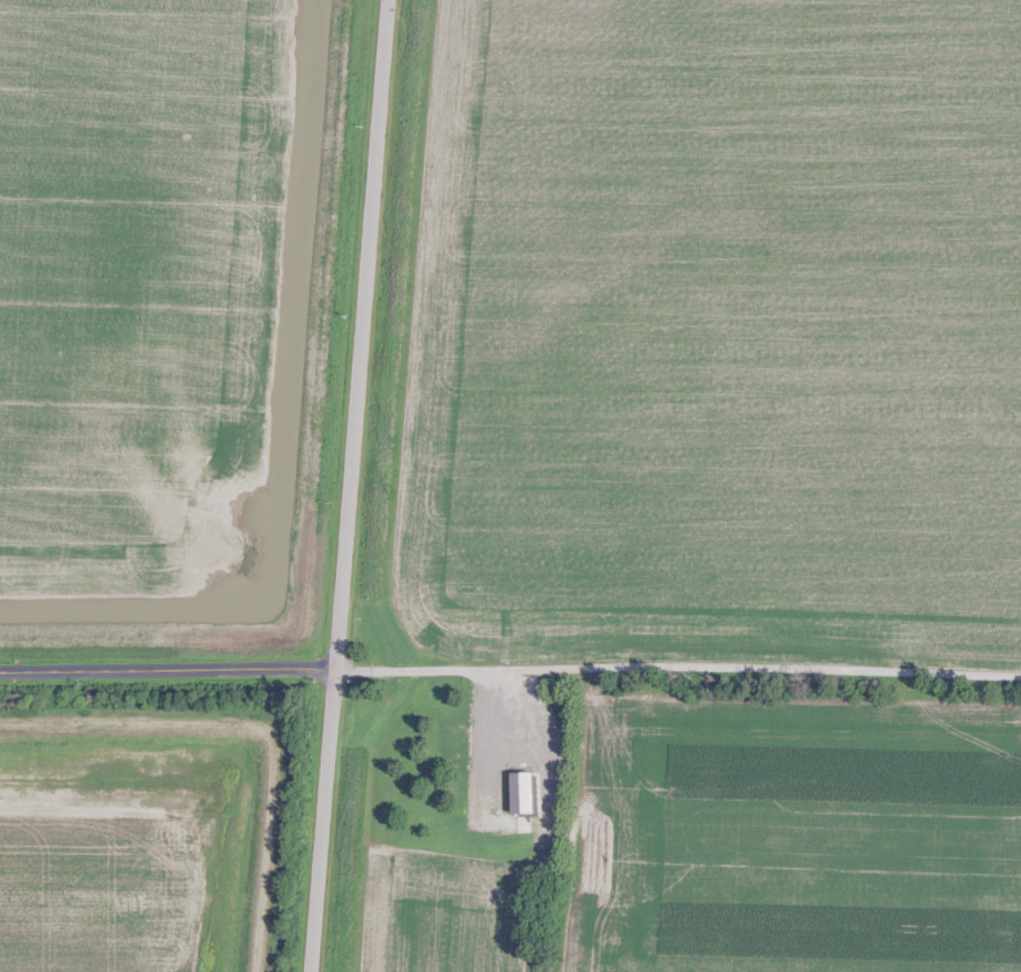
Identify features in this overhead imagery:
road: (360, 334)
road: (167, 669)
road: (678, 674)
road: (322, 820)

